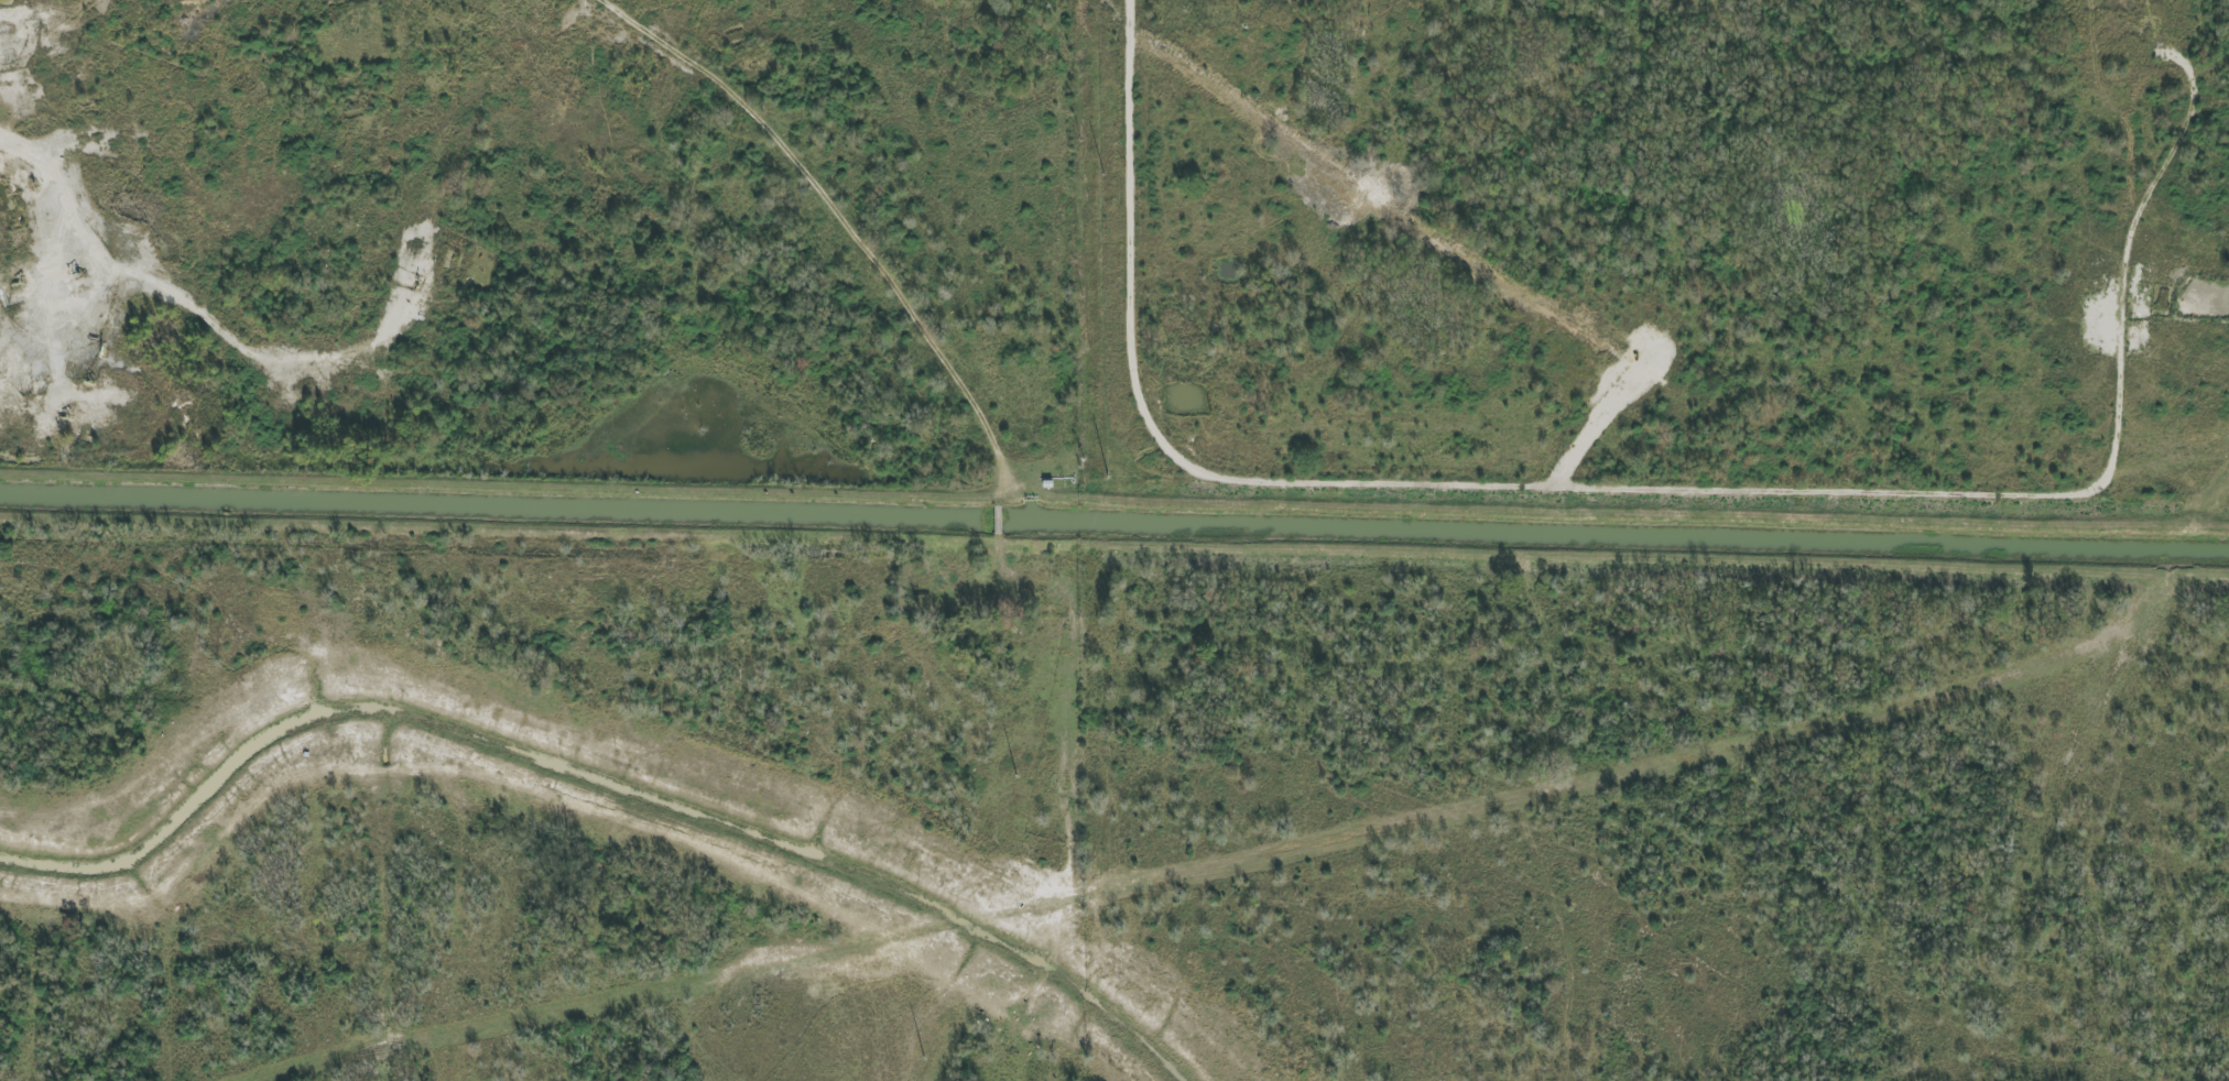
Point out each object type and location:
road: (851, 223)

